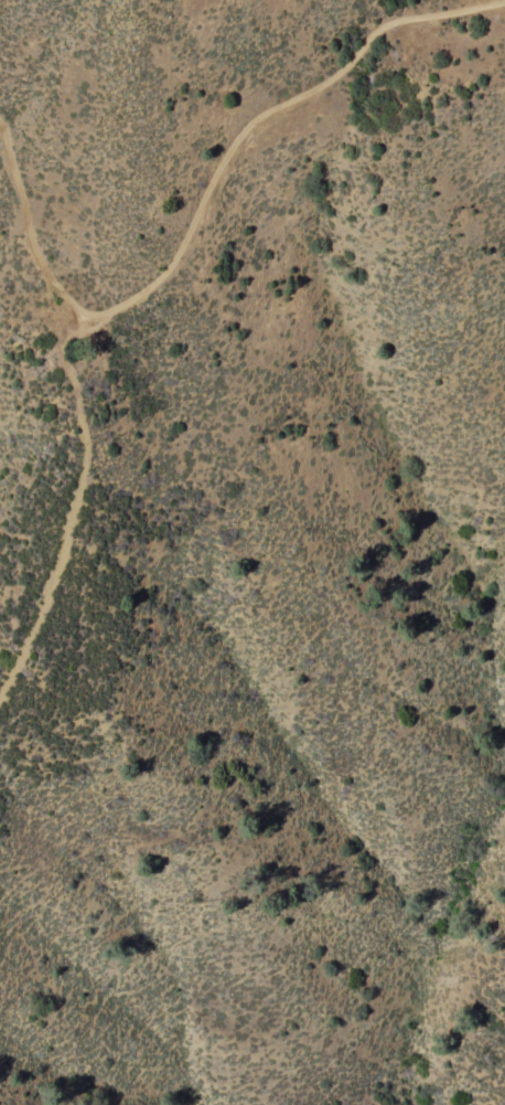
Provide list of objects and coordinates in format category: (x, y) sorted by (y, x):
road: (206, 198)

